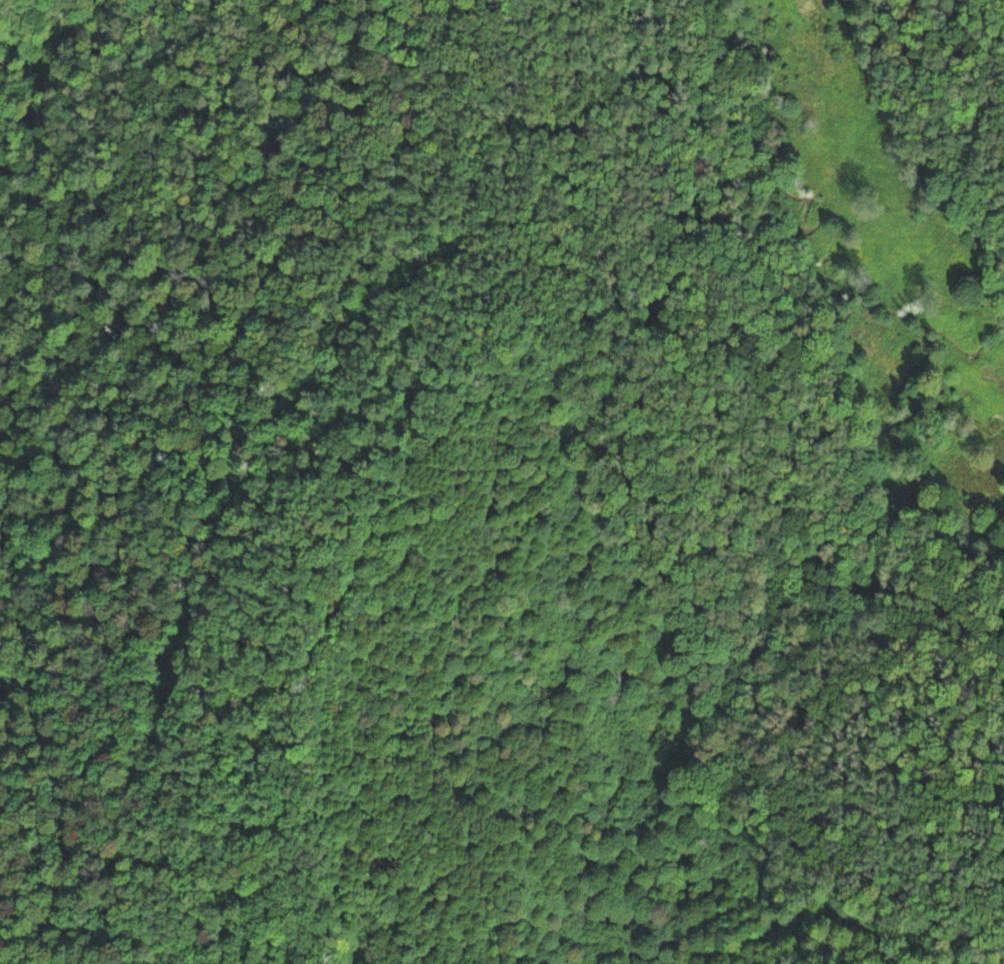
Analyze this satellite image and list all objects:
road: (0, 0)

